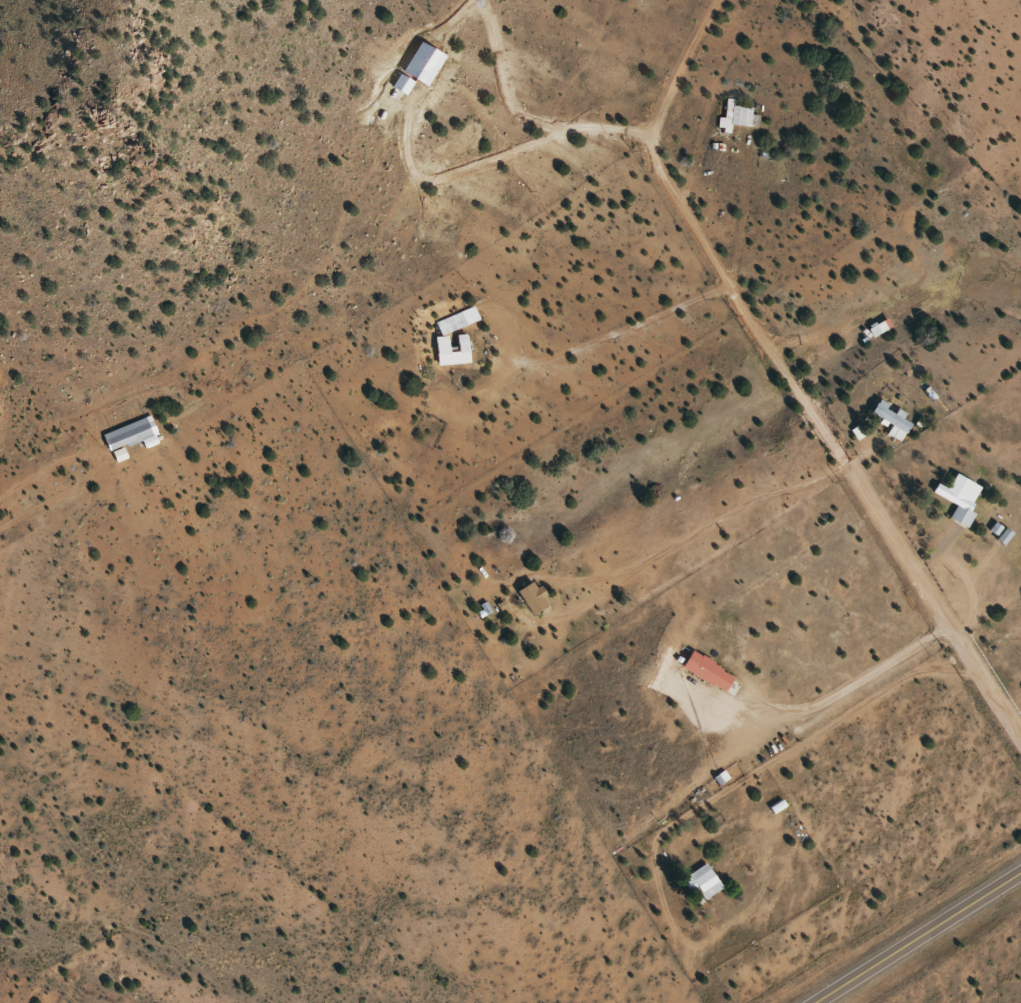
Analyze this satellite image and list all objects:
building: (736, 115)
building: (453, 142)
building: (460, 336)
road: (785, 375)
building: (890, 420)
building: (127, 434)
building: (956, 498)
building: (530, 597)
building: (705, 671)
building: (702, 883)
road: (917, 937)

